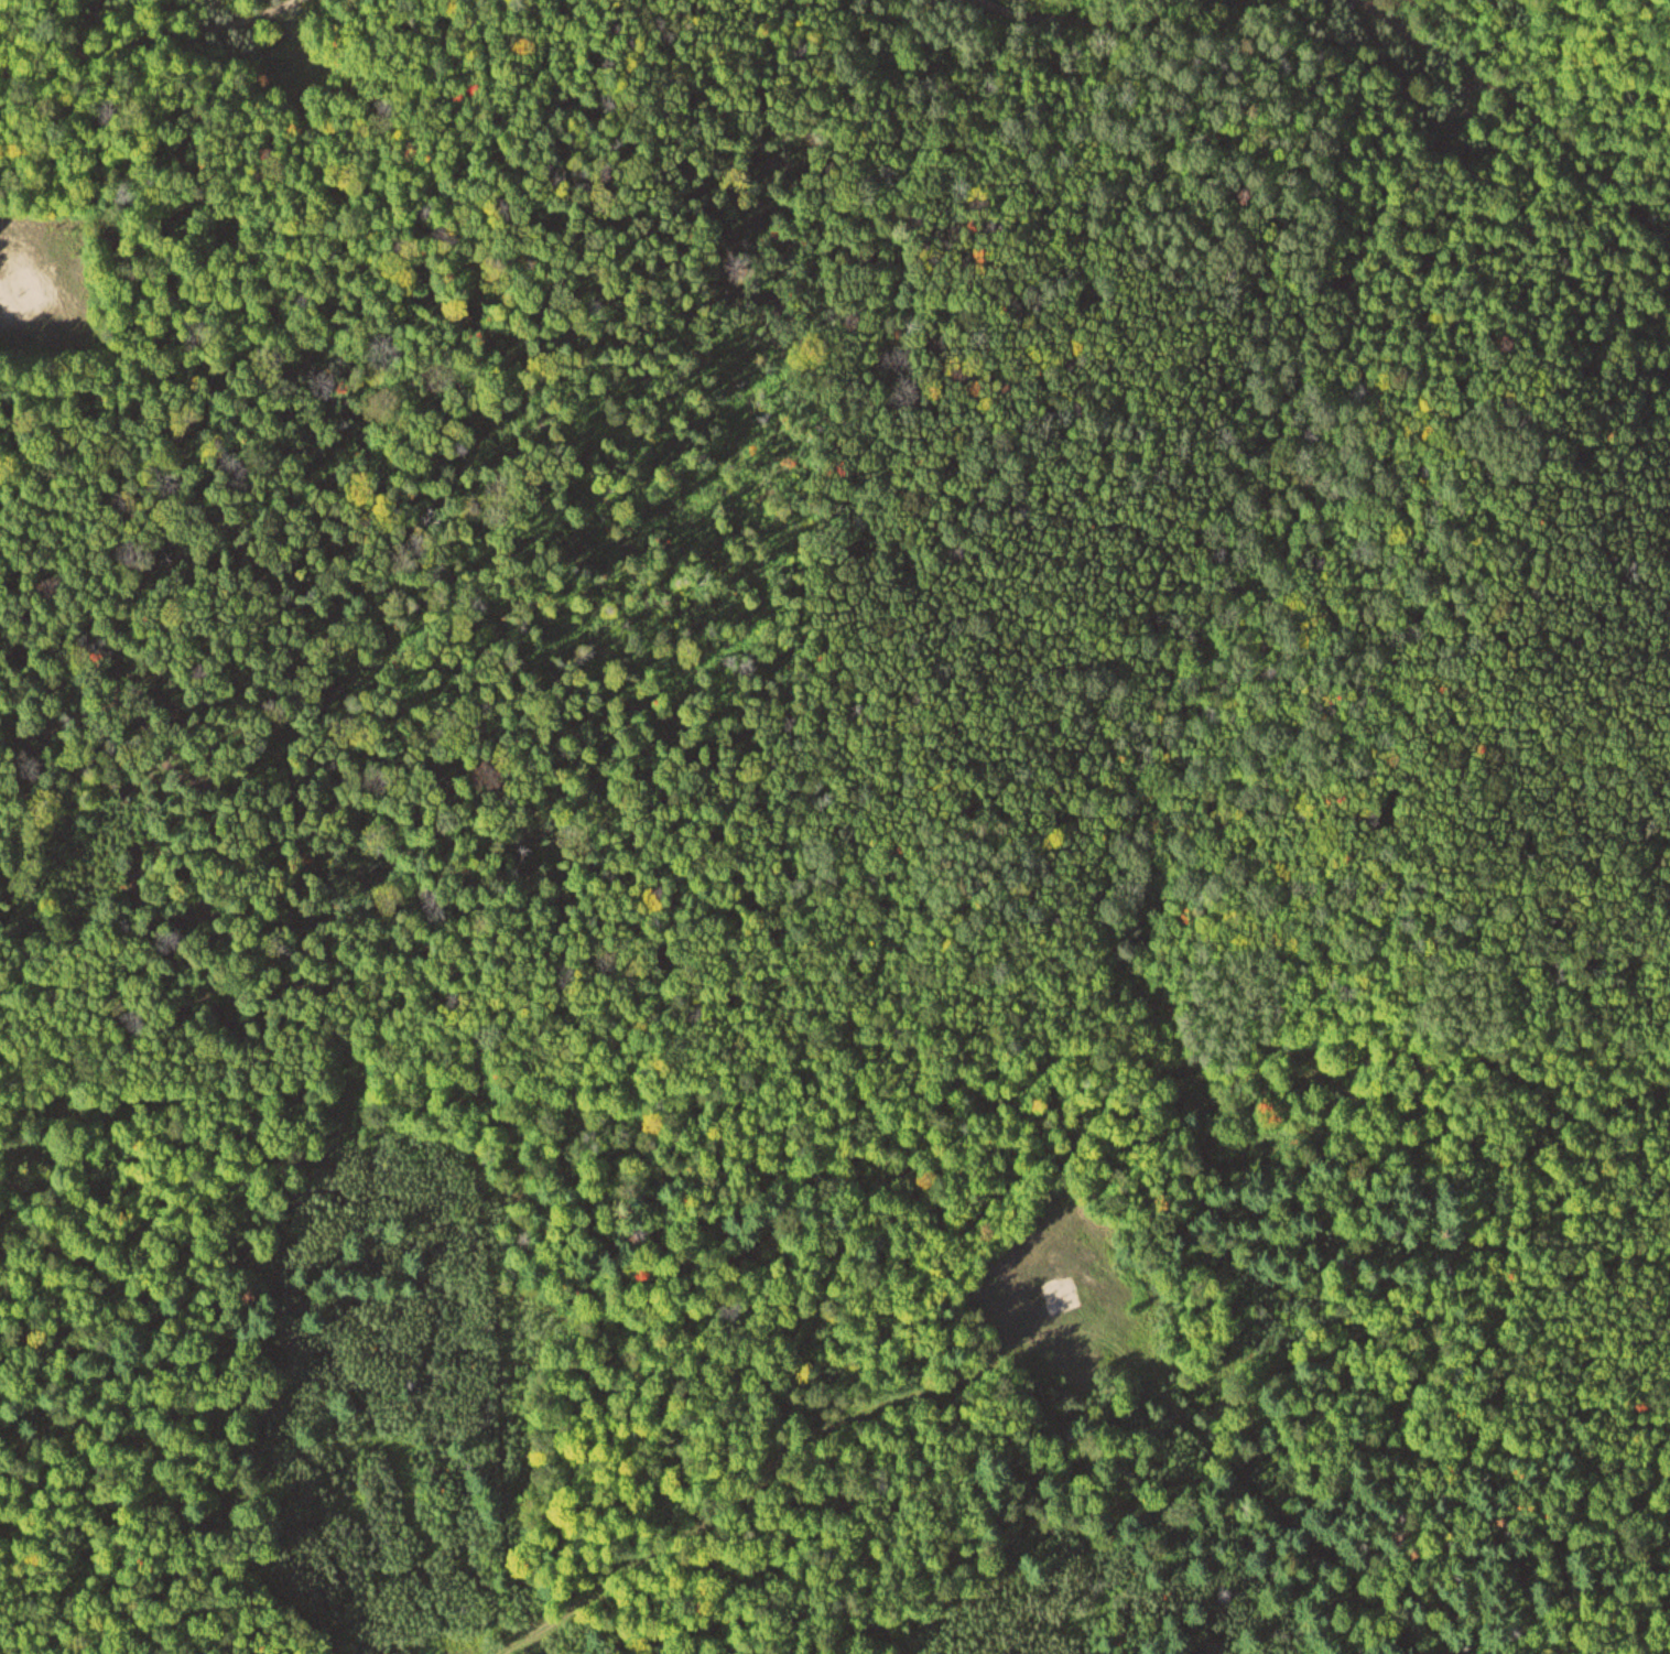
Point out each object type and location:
road: (1080, 20)
road: (144, 42)
road: (1525, 113)
road: (993, 1358)

